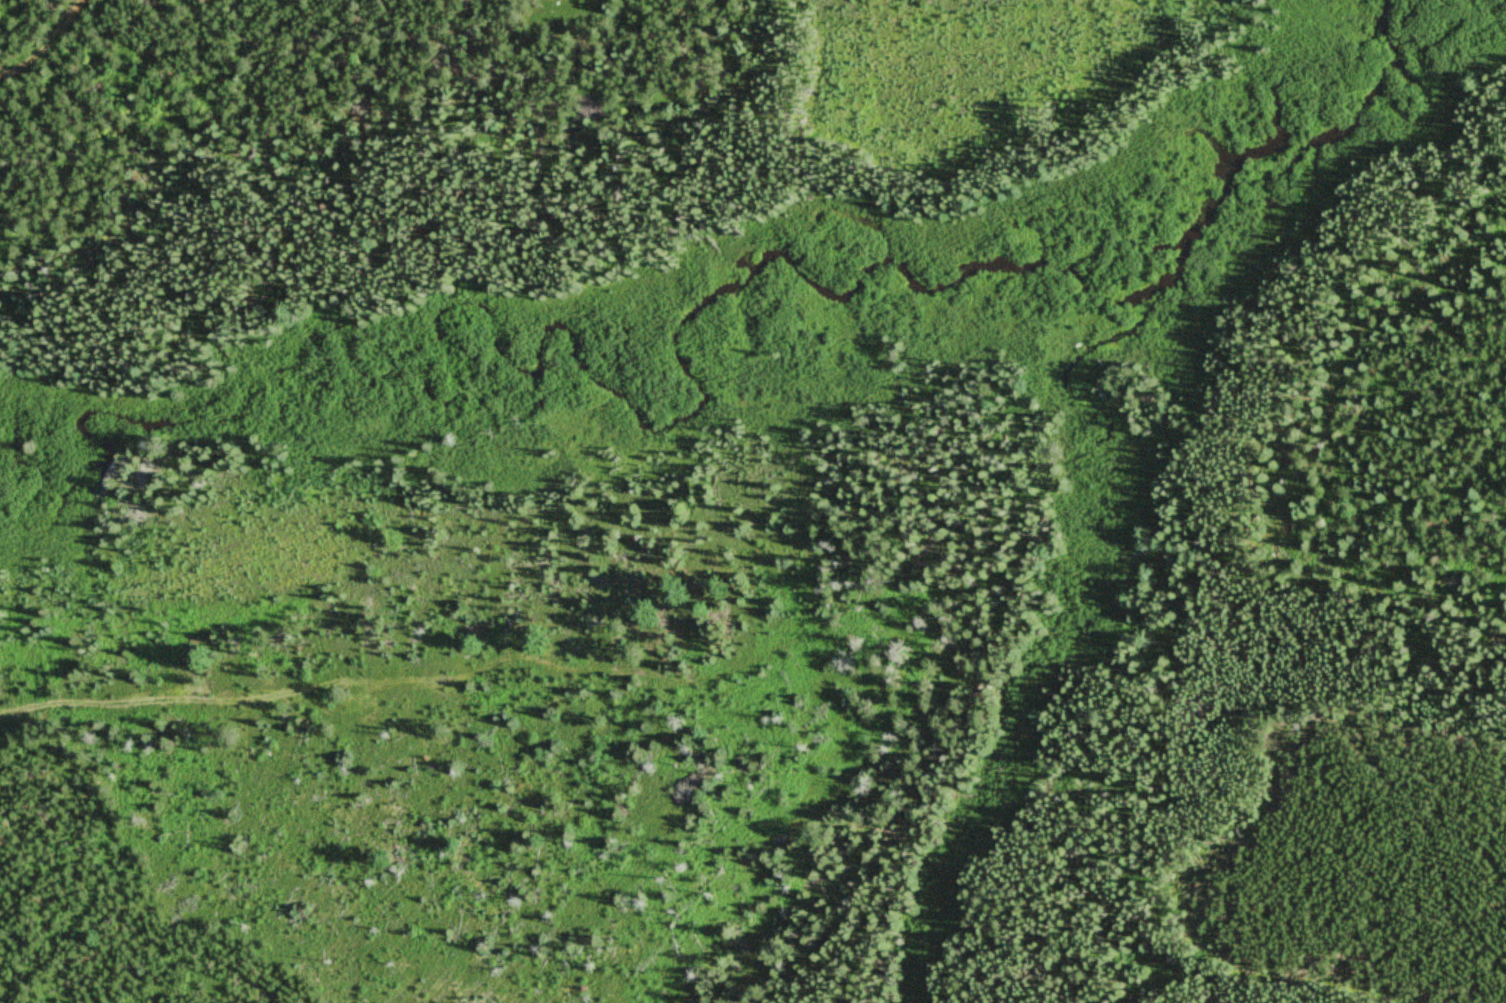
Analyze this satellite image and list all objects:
river: (1307, 156)
river: (490, 375)

